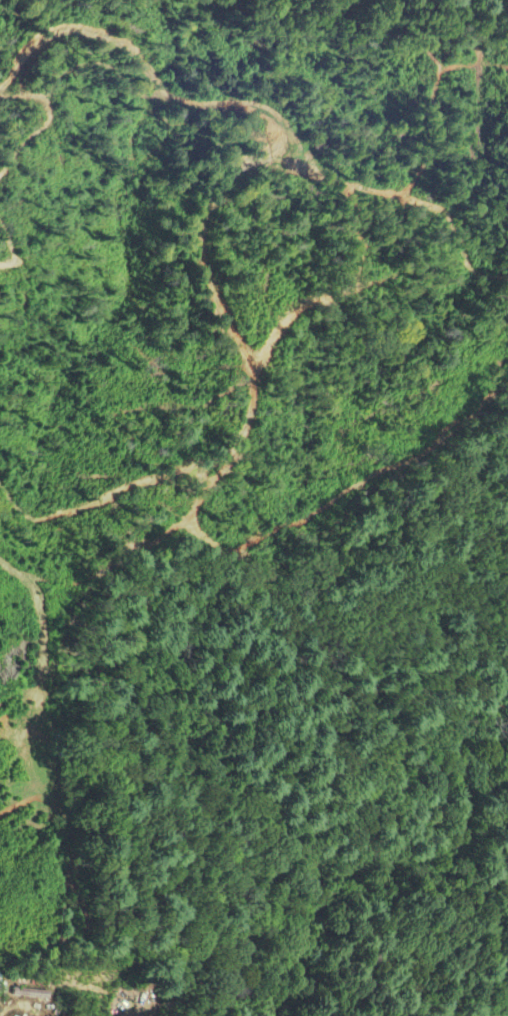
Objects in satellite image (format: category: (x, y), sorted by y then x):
building: (19, 994)

